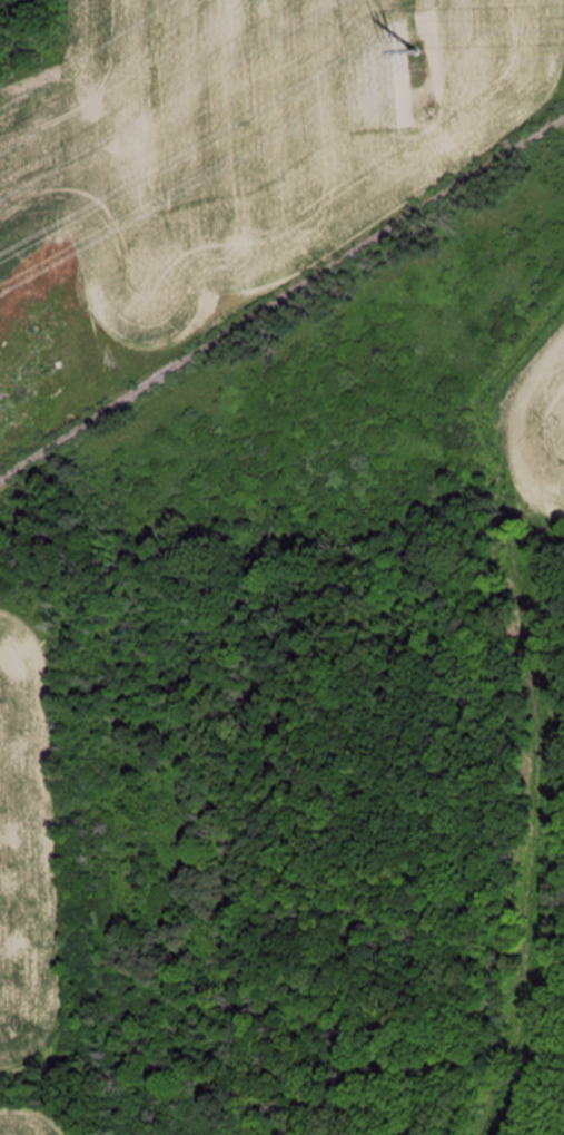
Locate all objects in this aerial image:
power tower: (416, 51)
railway: (281, 290)

